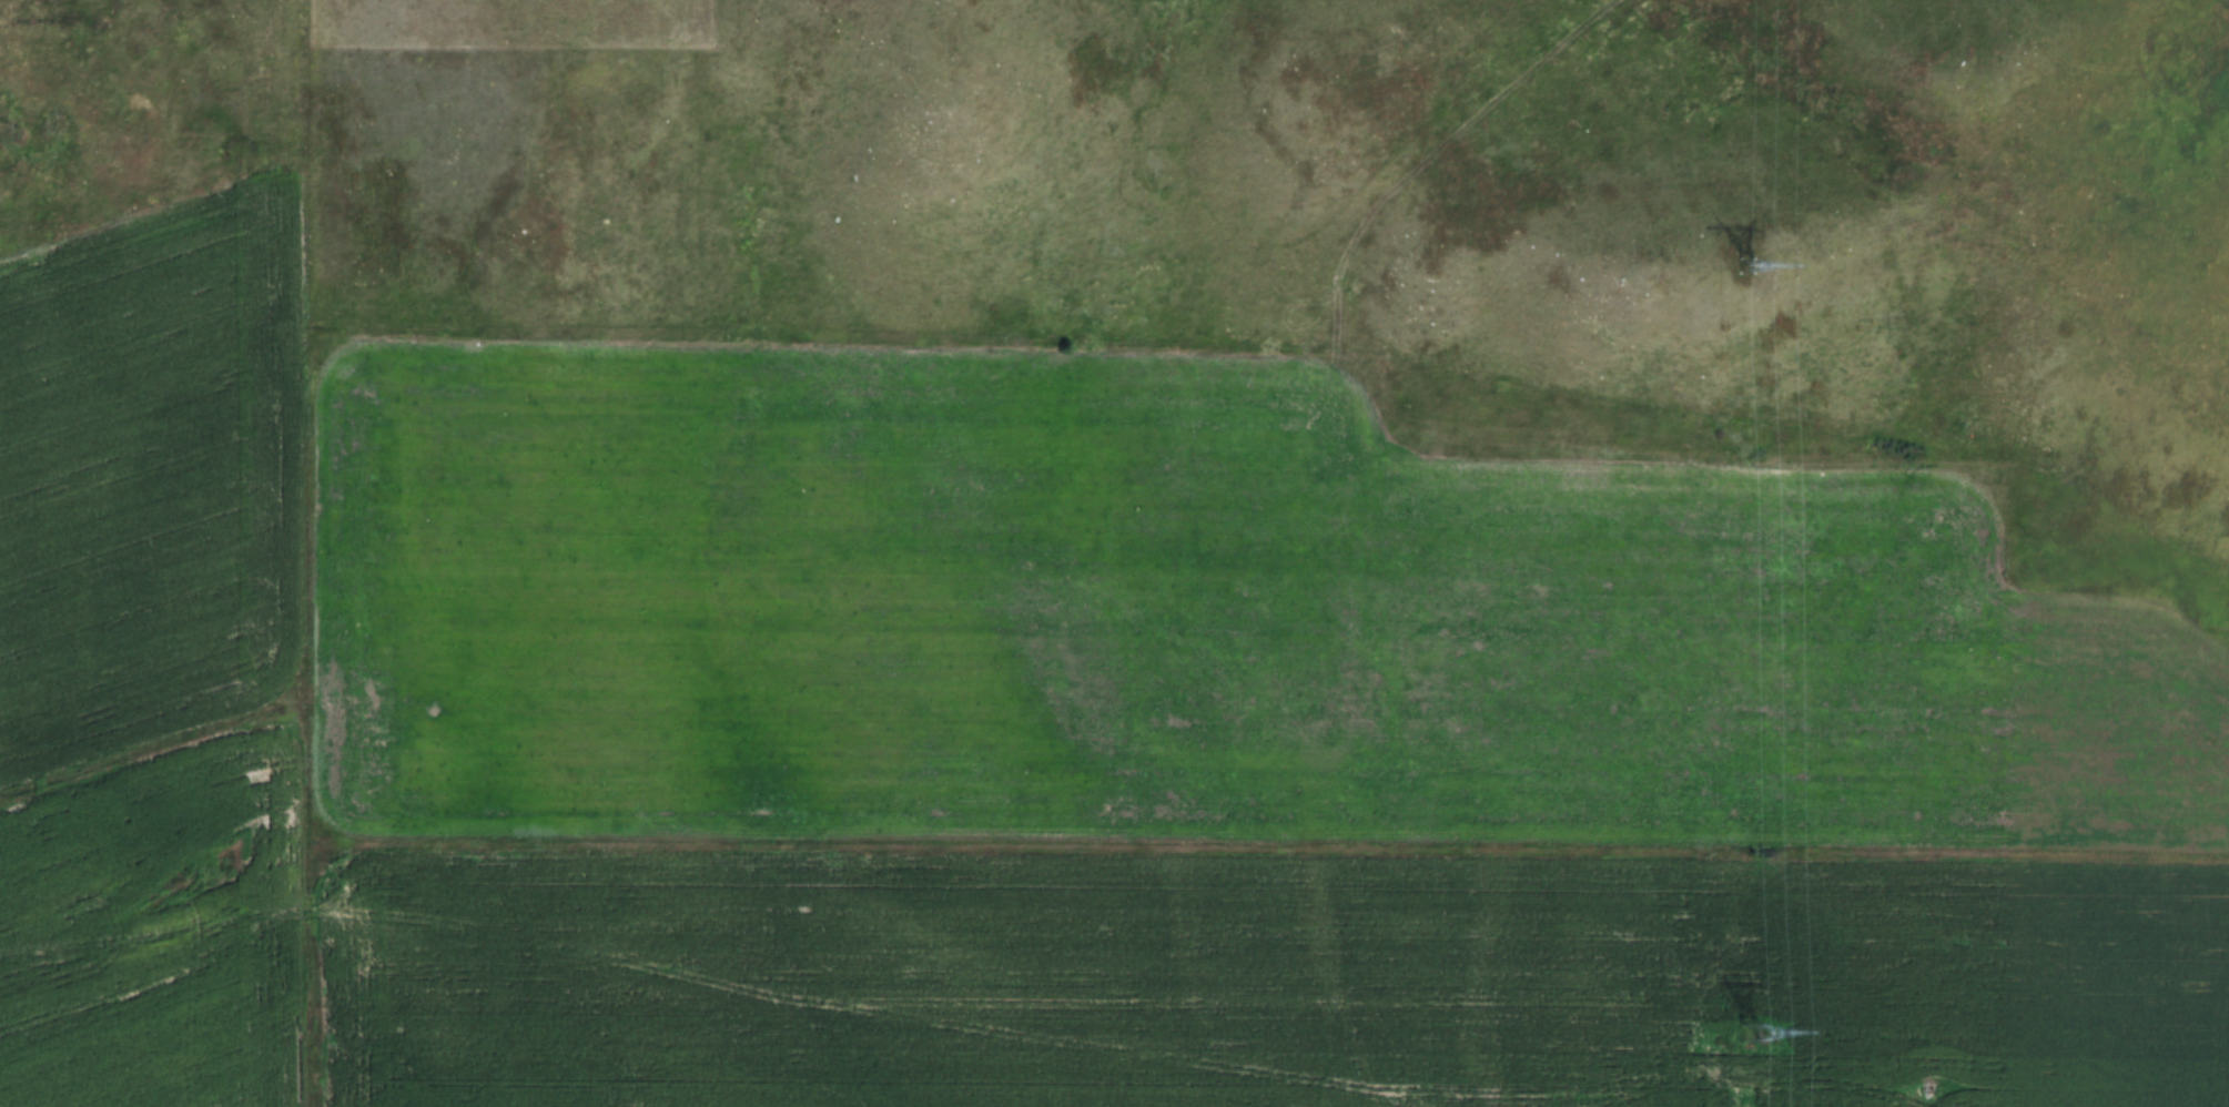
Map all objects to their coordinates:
power tower: (1742, 264)
power tower: (1750, 1035)

